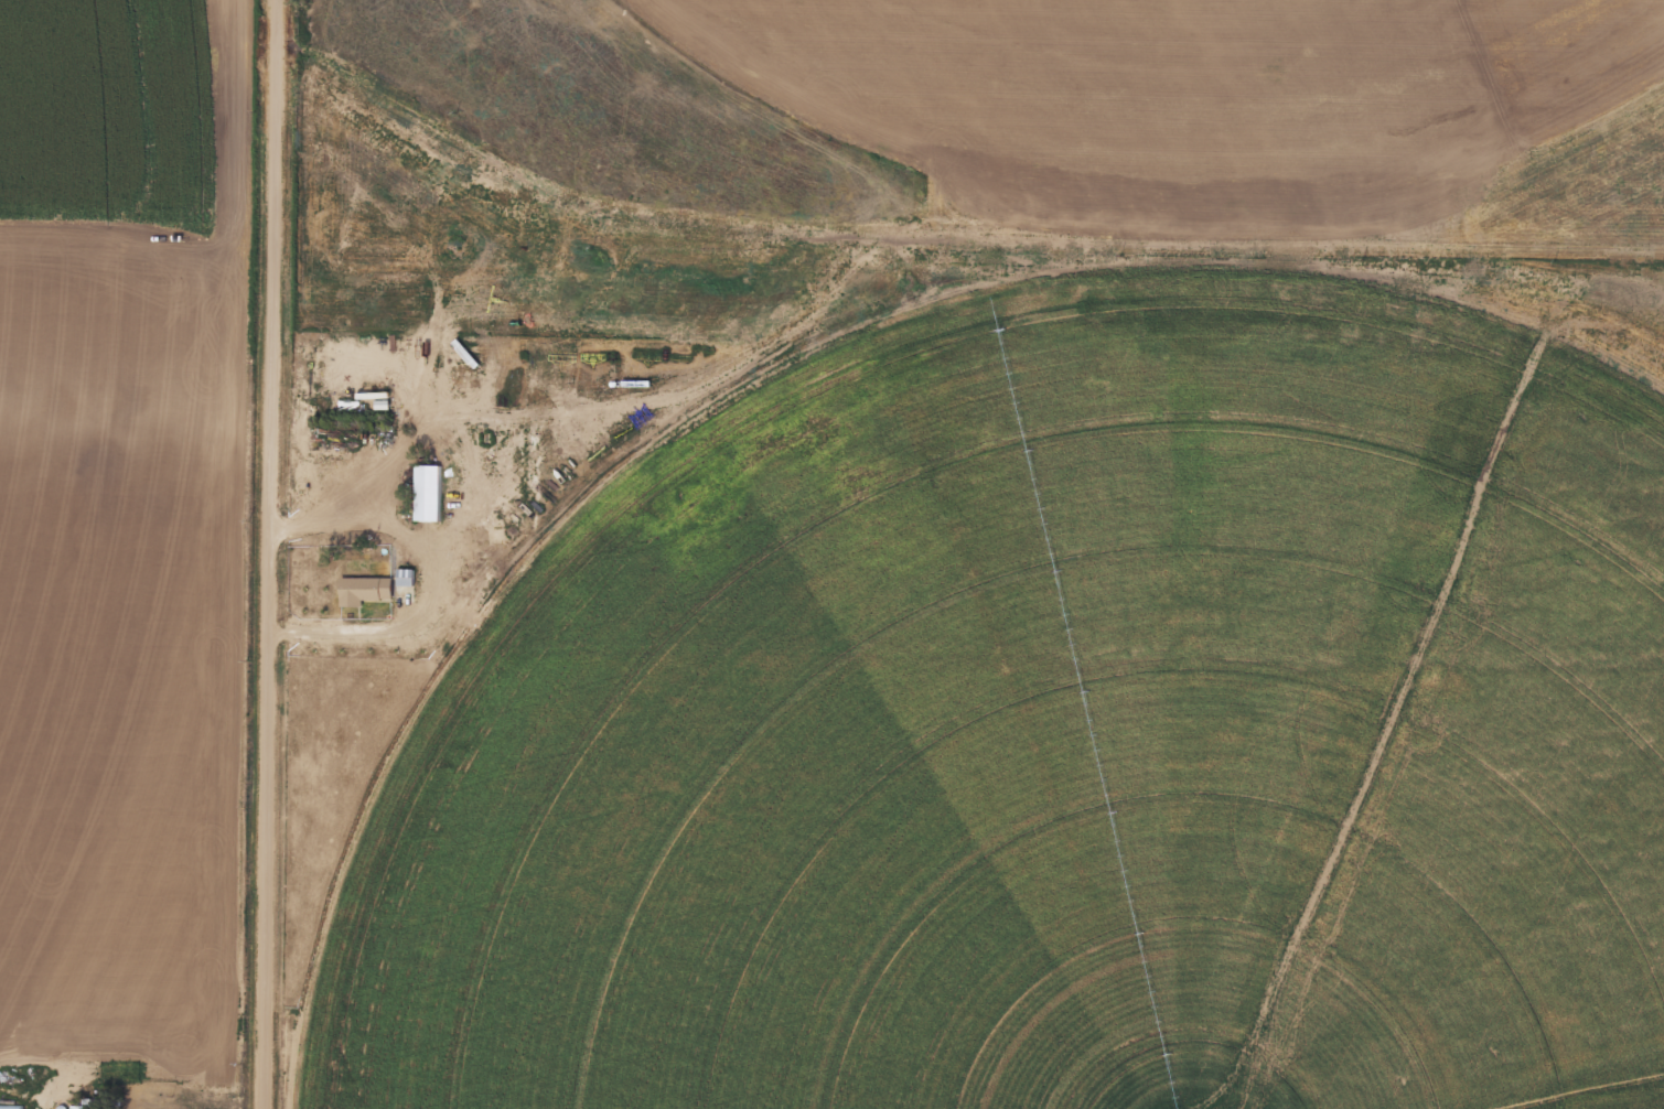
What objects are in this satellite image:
building: (428, 493)
road: (268, 554)
crop: (992, 556)
building: (363, 591)
building: (12, 1107)

